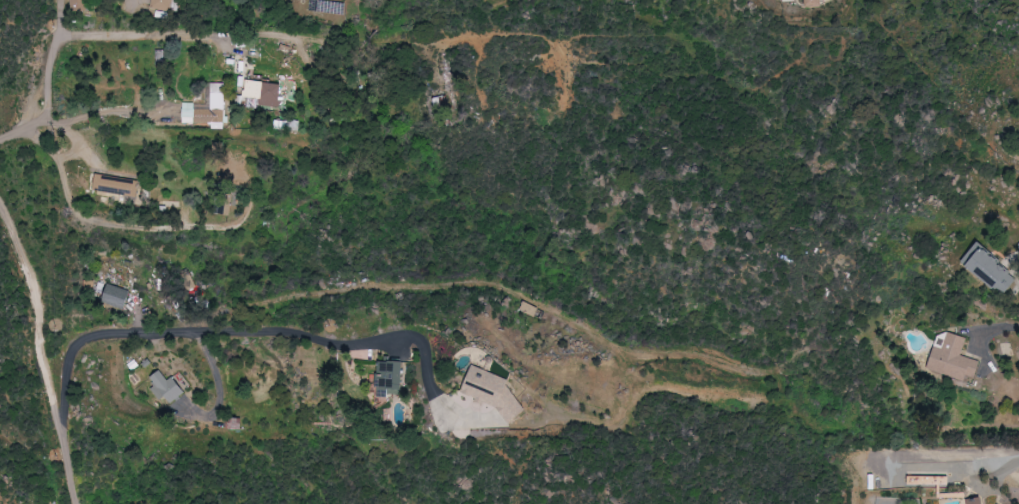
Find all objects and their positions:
building: (788, 0)
building: (814, 3)
building: (79, 5)
building: (162, 5)
road: (146, 35)
building: (160, 57)
road: (48, 84)
building: (264, 92)
building: (207, 108)
road: (116, 111)
building: (116, 185)
road: (106, 222)
road: (1016, 266)
building: (990, 269)
building: (116, 296)
building: (529, 309)
road: (993, 329)
road: (256, 331)
road: (40, 354)
building: (953, 359)
building: (390, 378)
building: (167, 387)
building: (494, 393)
road: (999, 473)
building: (976, 501)

